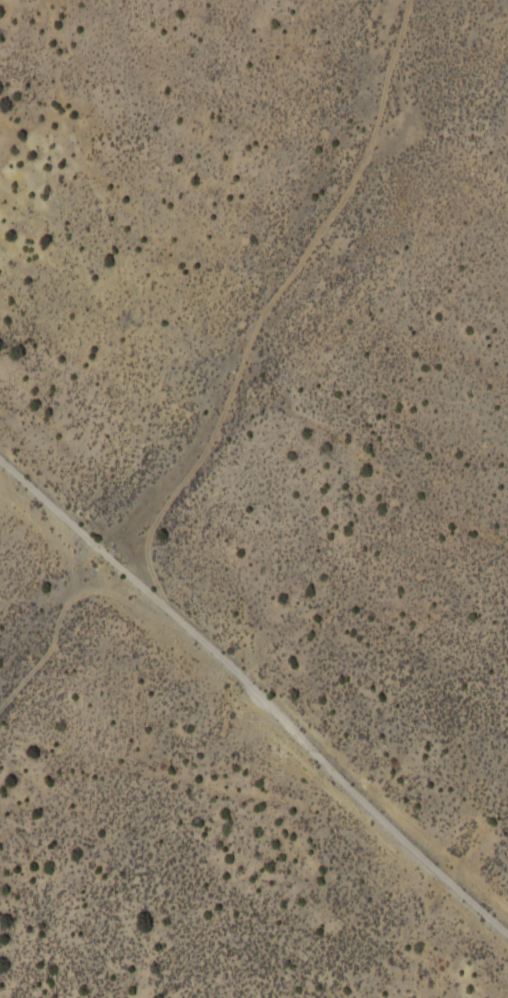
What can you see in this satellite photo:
road: (254, 727)

